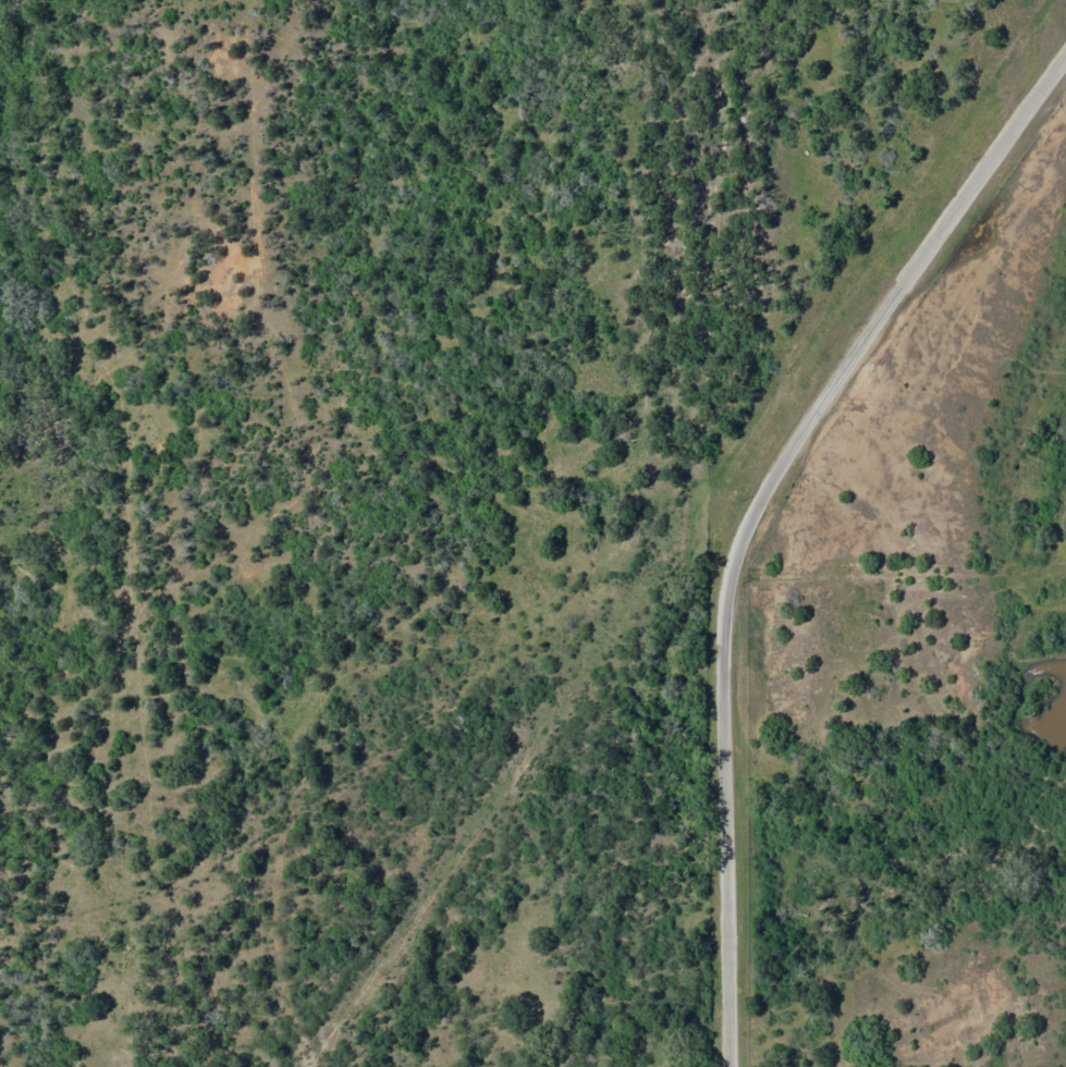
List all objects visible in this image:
road: (757, 516)

